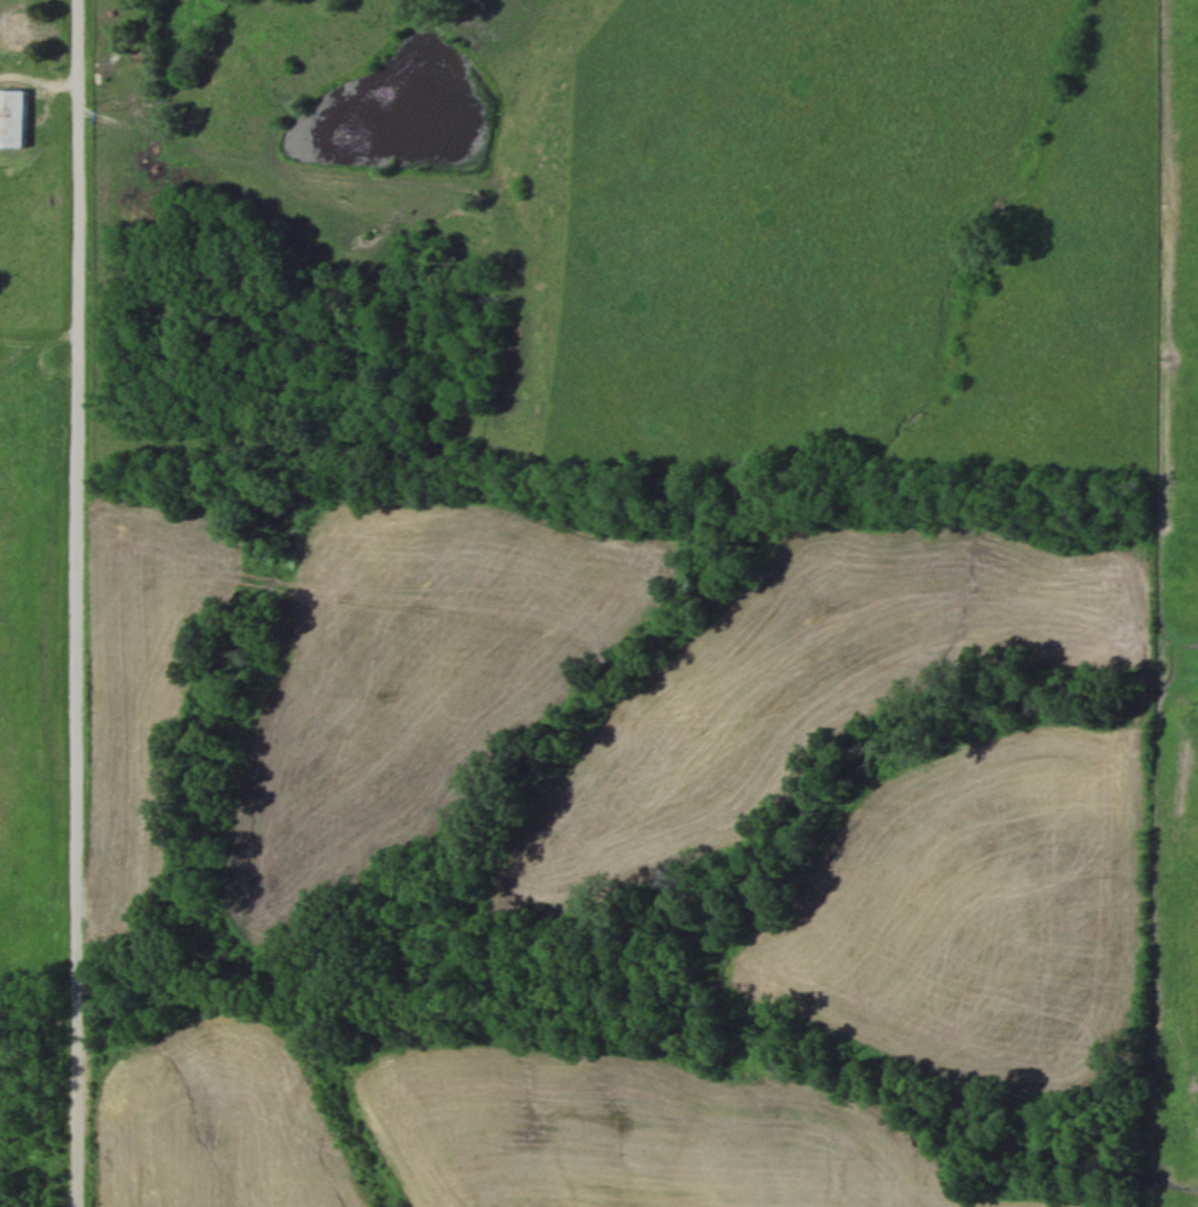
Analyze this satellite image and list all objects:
building: (17, 115)
road: (77, 603)

